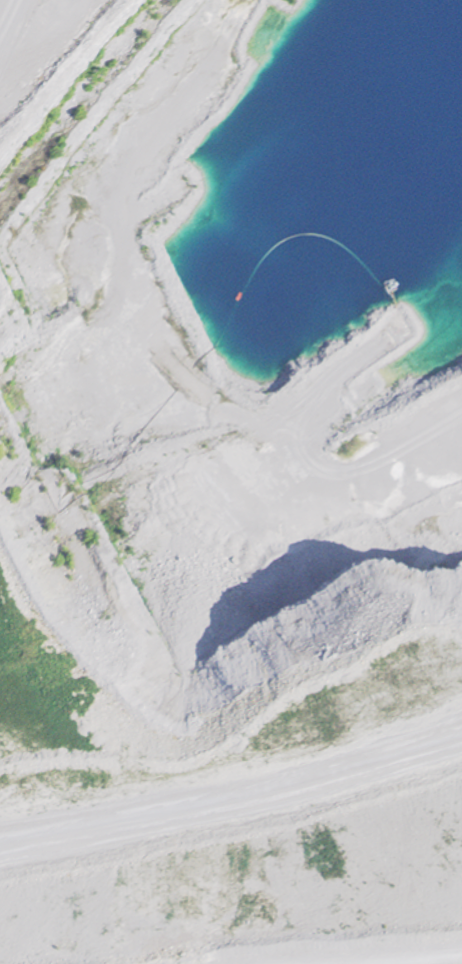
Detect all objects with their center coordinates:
quarry: (231, 482)
road: (104, 711)
road: (456, 963)

